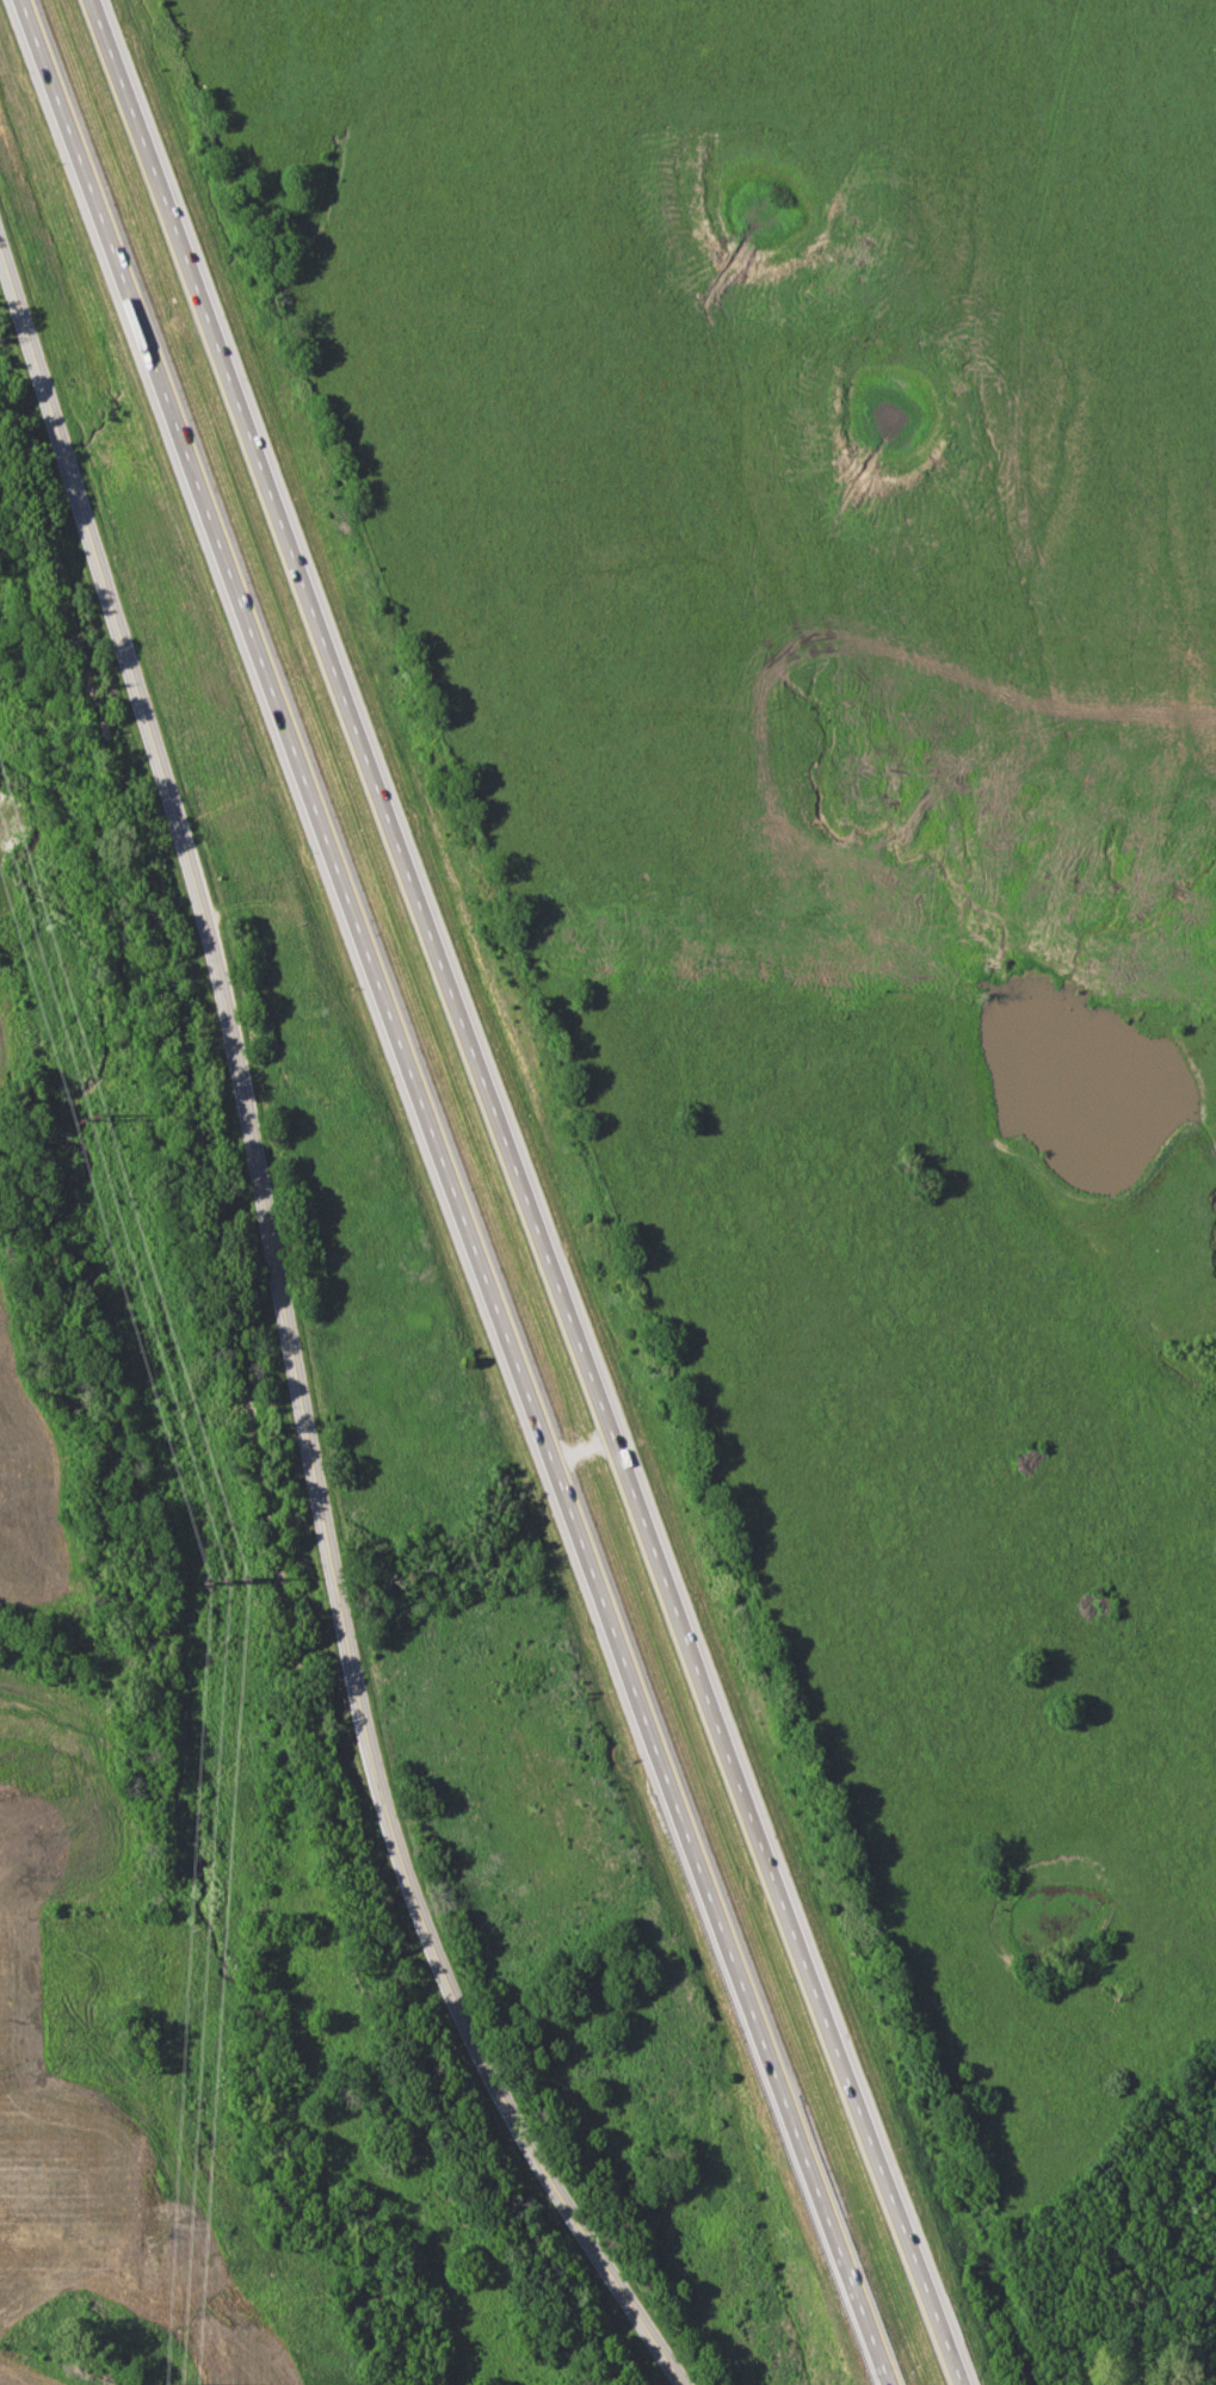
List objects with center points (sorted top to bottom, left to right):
power tower: (95, 1113)
road: (452, 1192)
road: (529, 1192)
road: (290, 1335)
power tower: (224, 1580)
power tower: (181, 2379)

